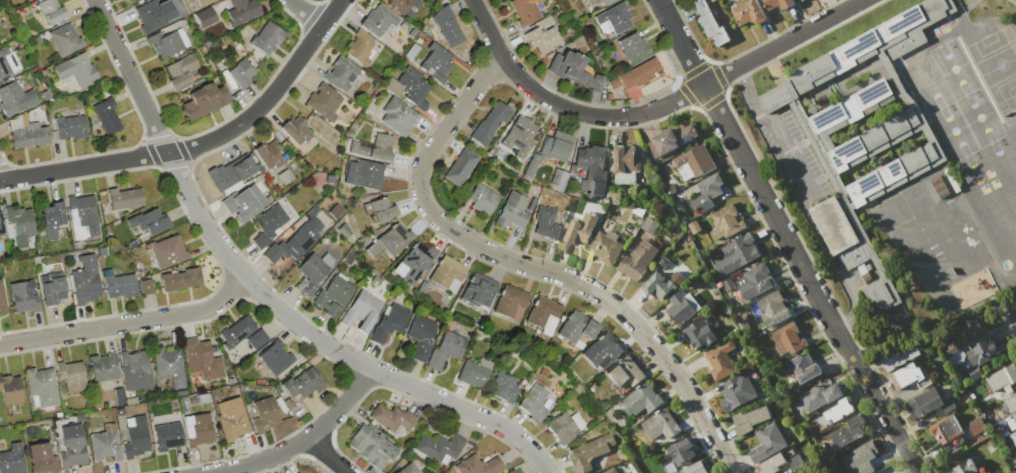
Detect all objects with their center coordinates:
building: (27, 0)
building: (28, 0)
building: (130, 1)
building: (134, 1)
building: (591, 1)
building: (605, 1)
building: (205, 2)
building: (778, 3)
building: (404, 6)
building: (51, 11)
building: (525, 11)
building: (242, 12)
building: (748, 12)
road: (306, 13)
building: (155, 15)
building: (205, 18)
building: (614, 19)
building: (377, 21)
building: (545, 22)
building: (710, 24)
building: (448, 26)
building: (267, 38)
building: (542, 39)
building: (65, 40)
building: (168, 42)
building: (633, 46)
building: (359, 48)
building: (411, 52)
building: (435, 62)
building: (8, 63)
building: (76, 69)
building: (181, 71)
building: (574, 71)
building: (241, 73)
building: (340, 74)
building: (638, 74)
building: (613, 83)
building: (409, 87)
road: (681, 97)
building: (16, 99)
building: (204, 101)
building: (323, 102)
building: (107, 116)
building: (398, 116)
building: (489, 124)
building: (70, 127)
building: (296, 130)
building: (27, 133)
building: (862, 133)
building: (522, 134)
building: (671, 139)
road: (201, 143)
building: (372, 146)
building: (559, 147)
building: (269, 155)
building: (695, 160)
building: (624, 164)
building: (532, 165)
building: (460, 166)
building: (592, 168)
building: (234, 171)
building: (363, 173)
road: (1, 177)
building: (559, 179)
building: (670, 184)
building: (702, 192)
building: (125, 198)
road: (806, 198)
building: (482, 199)
building: (245, 202)
building: (677, 205)
building: (382, 209)
building: (336, 211)
building: (512, 211)
building: (82, 216)
building: (52, 219)
building: (149, 221)
building: (726, 222)
building: (20, 224)
building: (269, 224)
building: (546, 224)
building: (649, 224)
building: (1, 226)
building: (694, 226)
building: (581, 228)
building: (344, 230)
road: (783, 238)
building: (390, 240)
building: (296, 242)
building: (607, 246)
building: (169, 252)
building: (736, 254)
road: (498, 256)
building: (637, 260)
building: (417, 261)
building: (313, 272)
building: (447, 272)
building: (180, 279)
building: (85, 280)
building: (754, 281)
building: (662, 283)
building: (121, 286)
building: (51, 287)
building: (147, 287)
building: (479, 290)
road: (261, 294)
building: (334, 296)
building: (23, 297)
building: (2, 300)
building: (509, 301)
building: (682, 306)
building: (773, 307)
building: (362, 311)
road: (1010, 311)
building: (544, 314)
road: (127, 323)
building: (390, 323)
building: (577, 327)
building: (968, 330)
building: (237, 332)
building: (701, 332)
building: (421, 337)
building: (787, 338)
building: (257, 339)
building: (949, 349)
building: (447, 350)
building: (601, 351)
building: (982, 352)
building: (904, 353)
building: (276, 357)
building: (201, 359)
building: (721, 360)
building: (802, 366)
building: (103, 367)
building: (170, 367)
building: (136, 371)
building: (474, 372)
building: (625, 373)
building: (906, 375)
building: (71, 376)
building: (1002, 378)
building: (303, 383)
building: (42, 386)
building: (503, 387)
building: (10, 389)
building: (736, 391)
building: (819, 396)
building: (641, 400)
building: (1010, 402)
building: (533, 403)
building: (924, 403)
building: (838, 410)
building: (265, 414)
building: (1014, 416)
building: (392, 417)
building: (232, 418)
building: (750, 418)
building: (661, 425)
building: (976, 426)
building: (946, 428)
building: (197, 429)
building: (562, 429)
building: (845, 432)
building: (167, 436)
building: (1013, 437)
building: (137, 438)
road: (303, 440)
building: (766, 442)
building: (105, 444)
building: (371, 446)
building: (72, 447)
building: (439, 447)
building: (681, 451)
building: (589, 452)
road: (325, 455)
building: (863, 457)
building: (12, 459)
building: (41, 459)
building: (771, 463)
building: (479, 466)
building: (965, 467)
building: (408, 468)
building: (694, 468)
building: (610, 470)
building: (512, 471)
building: (780, 472)
building: (789, 472)

